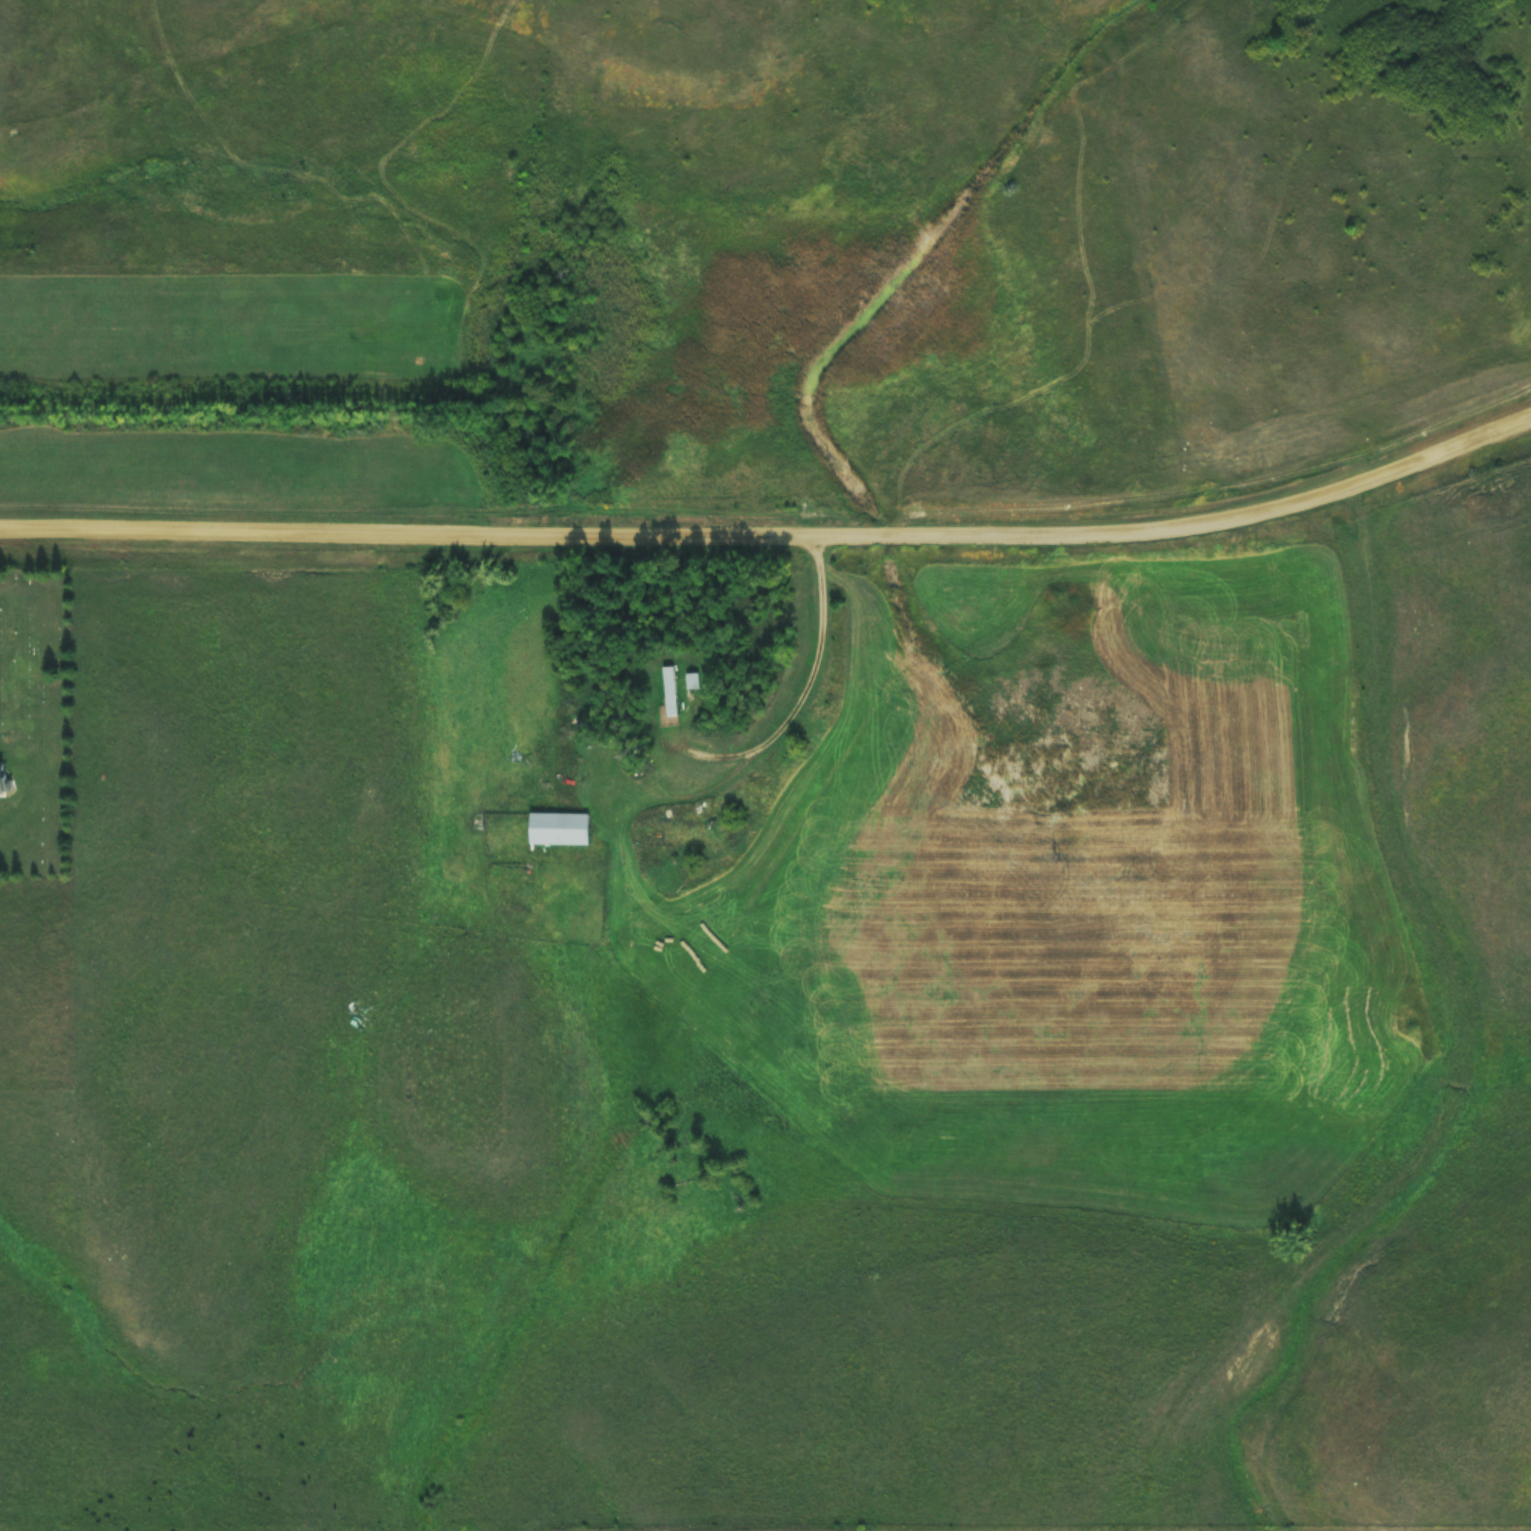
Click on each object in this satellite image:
road: (341, 179)
road: (774, 532)
building: (696, 677)
building: (672, 689)
road: (795, 704)
building: (3, 768)
building: (562, 824)

